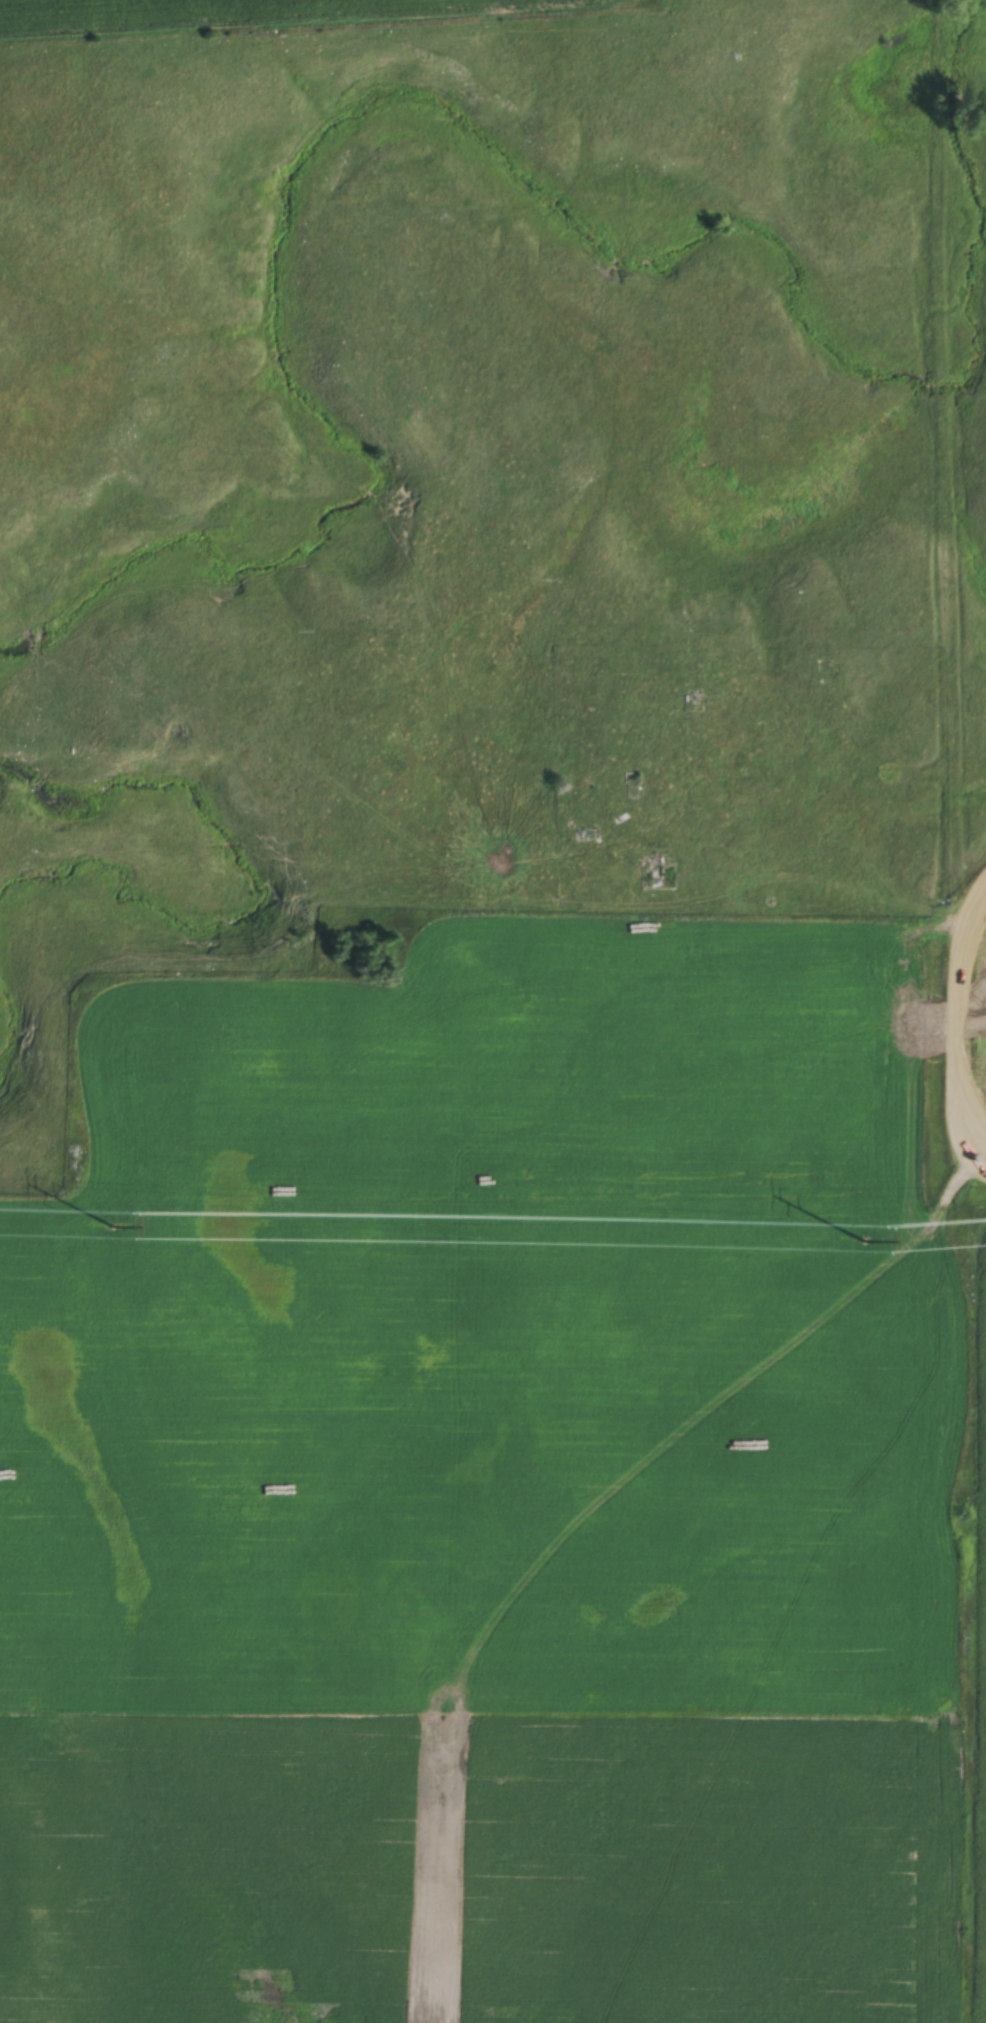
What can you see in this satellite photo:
building: (697, 700)
road: (954, 1026)
power tower: (114, 1223)
power tower: (864, 1238)

